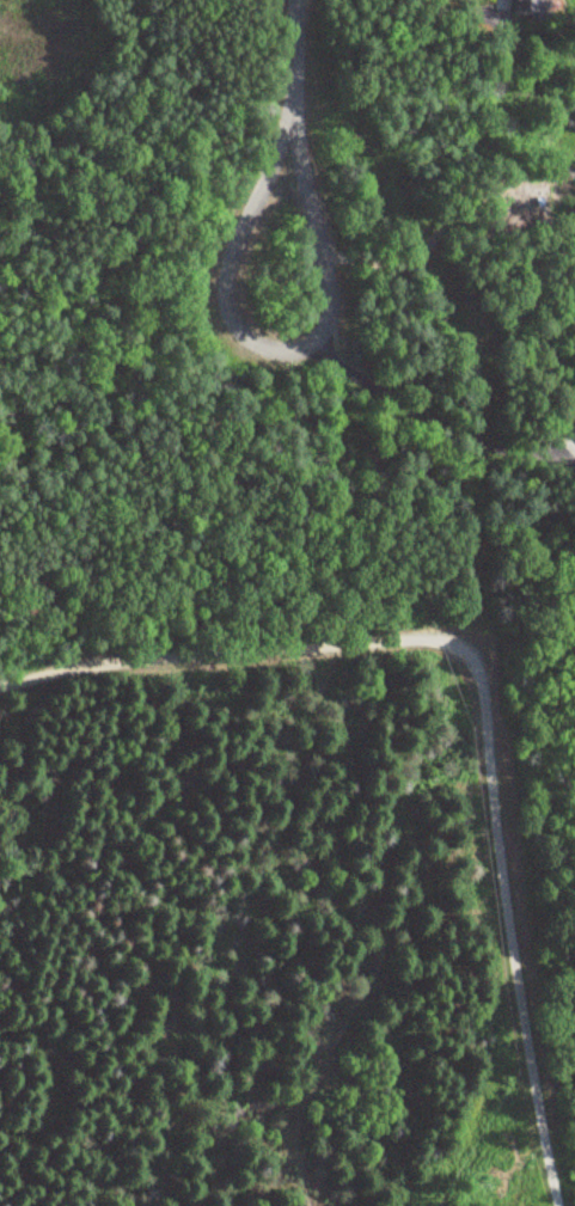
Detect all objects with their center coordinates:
building: (525, 7)
road: (295, 63)
road: (277, 350)
building: (574, 426)
road: (478, 691)
road: (215, 1011)

